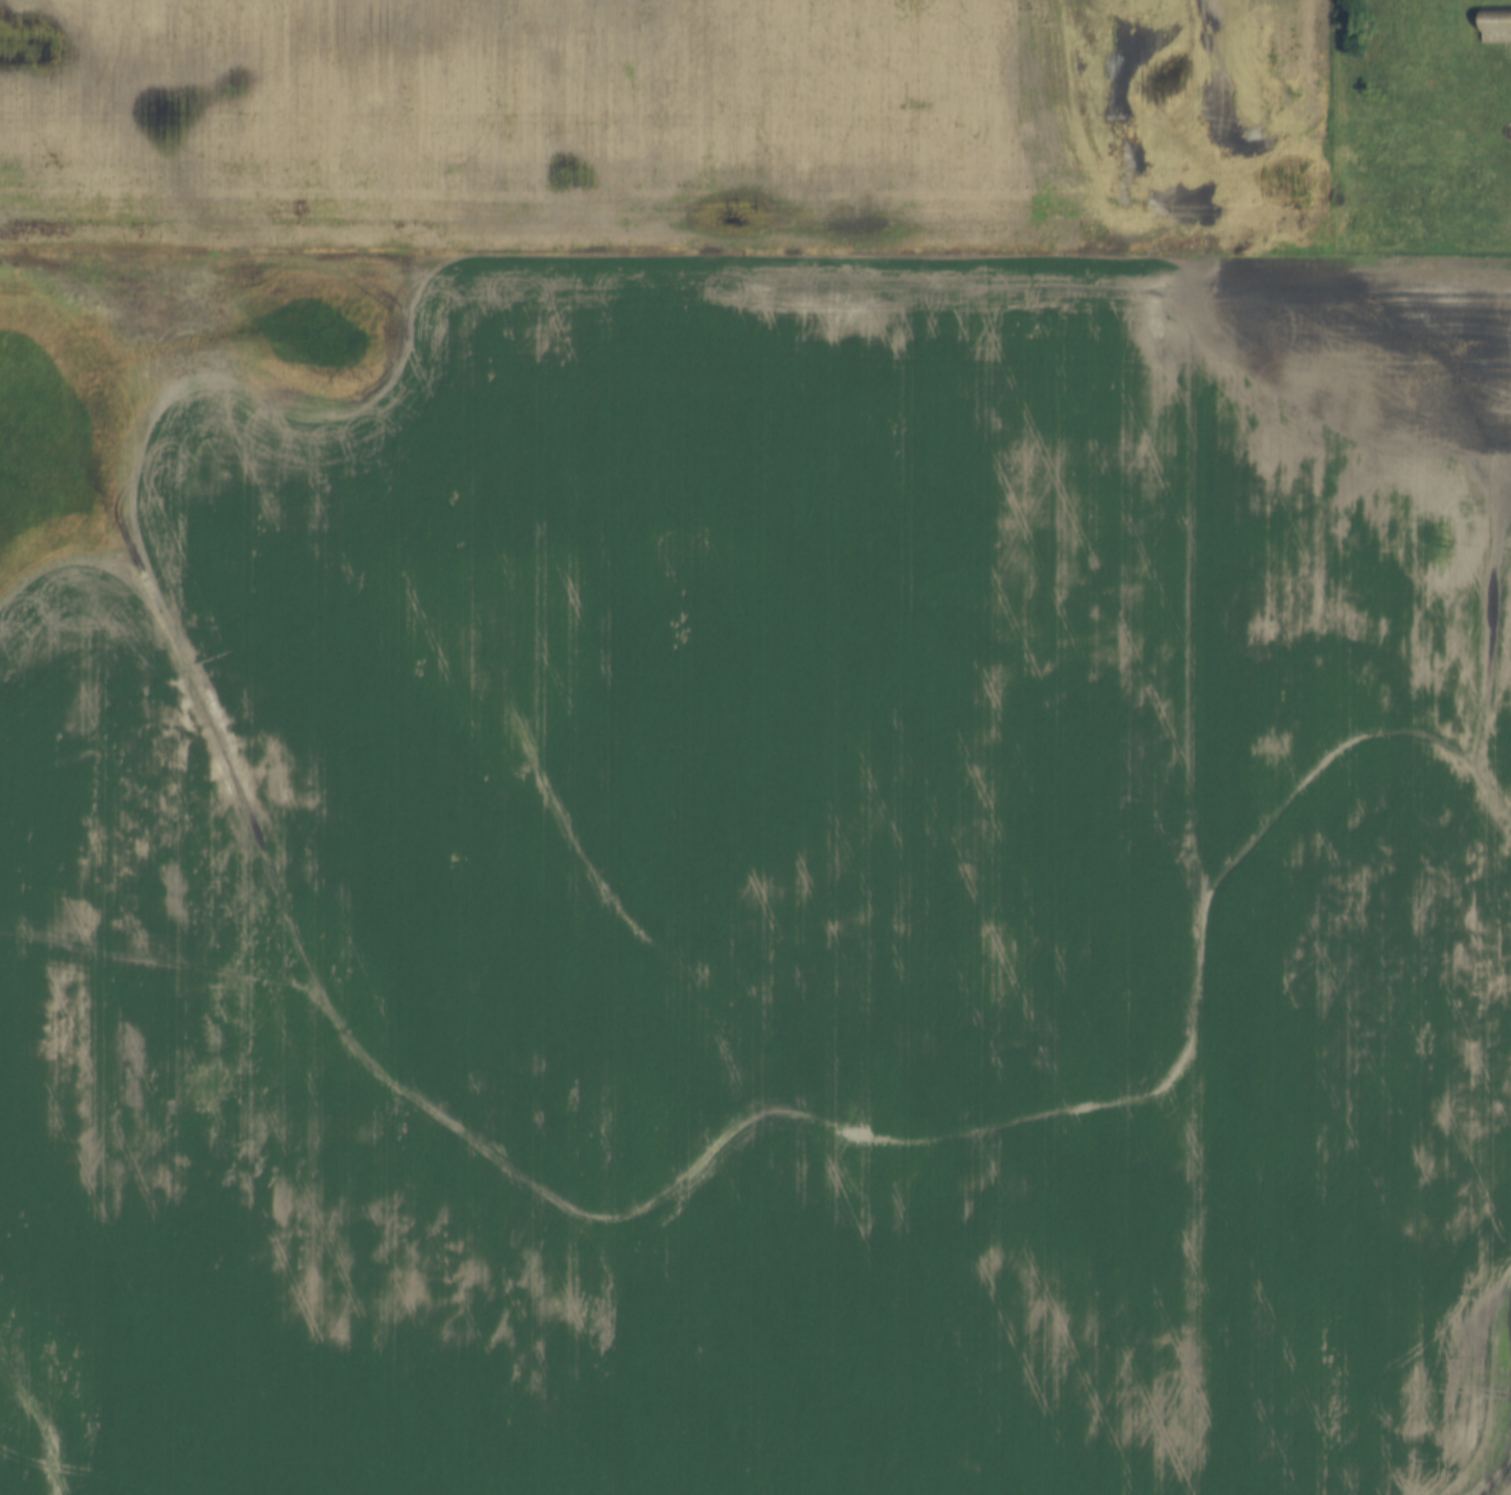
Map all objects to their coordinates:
building: (1487, 21)

